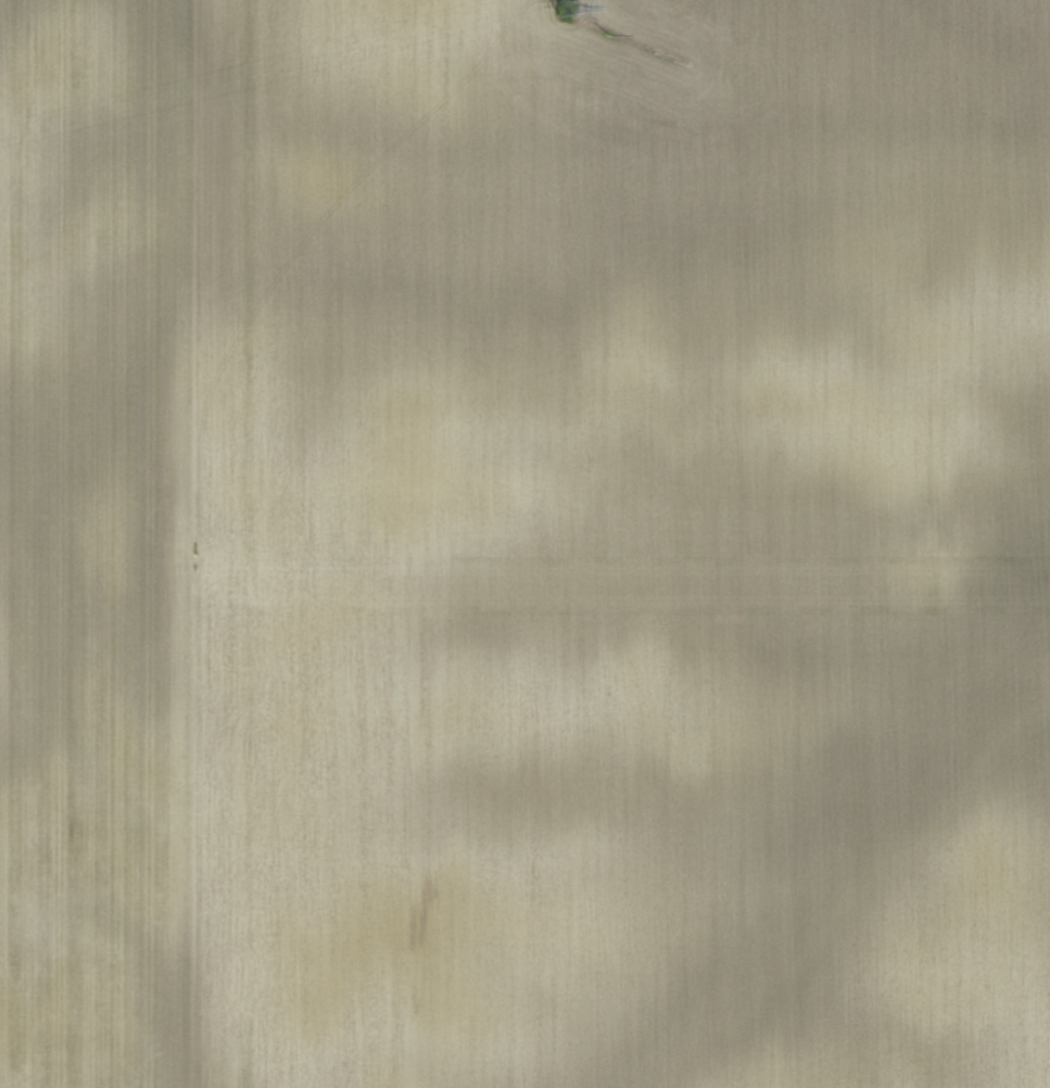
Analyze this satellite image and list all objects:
power tower: (565, 10)

